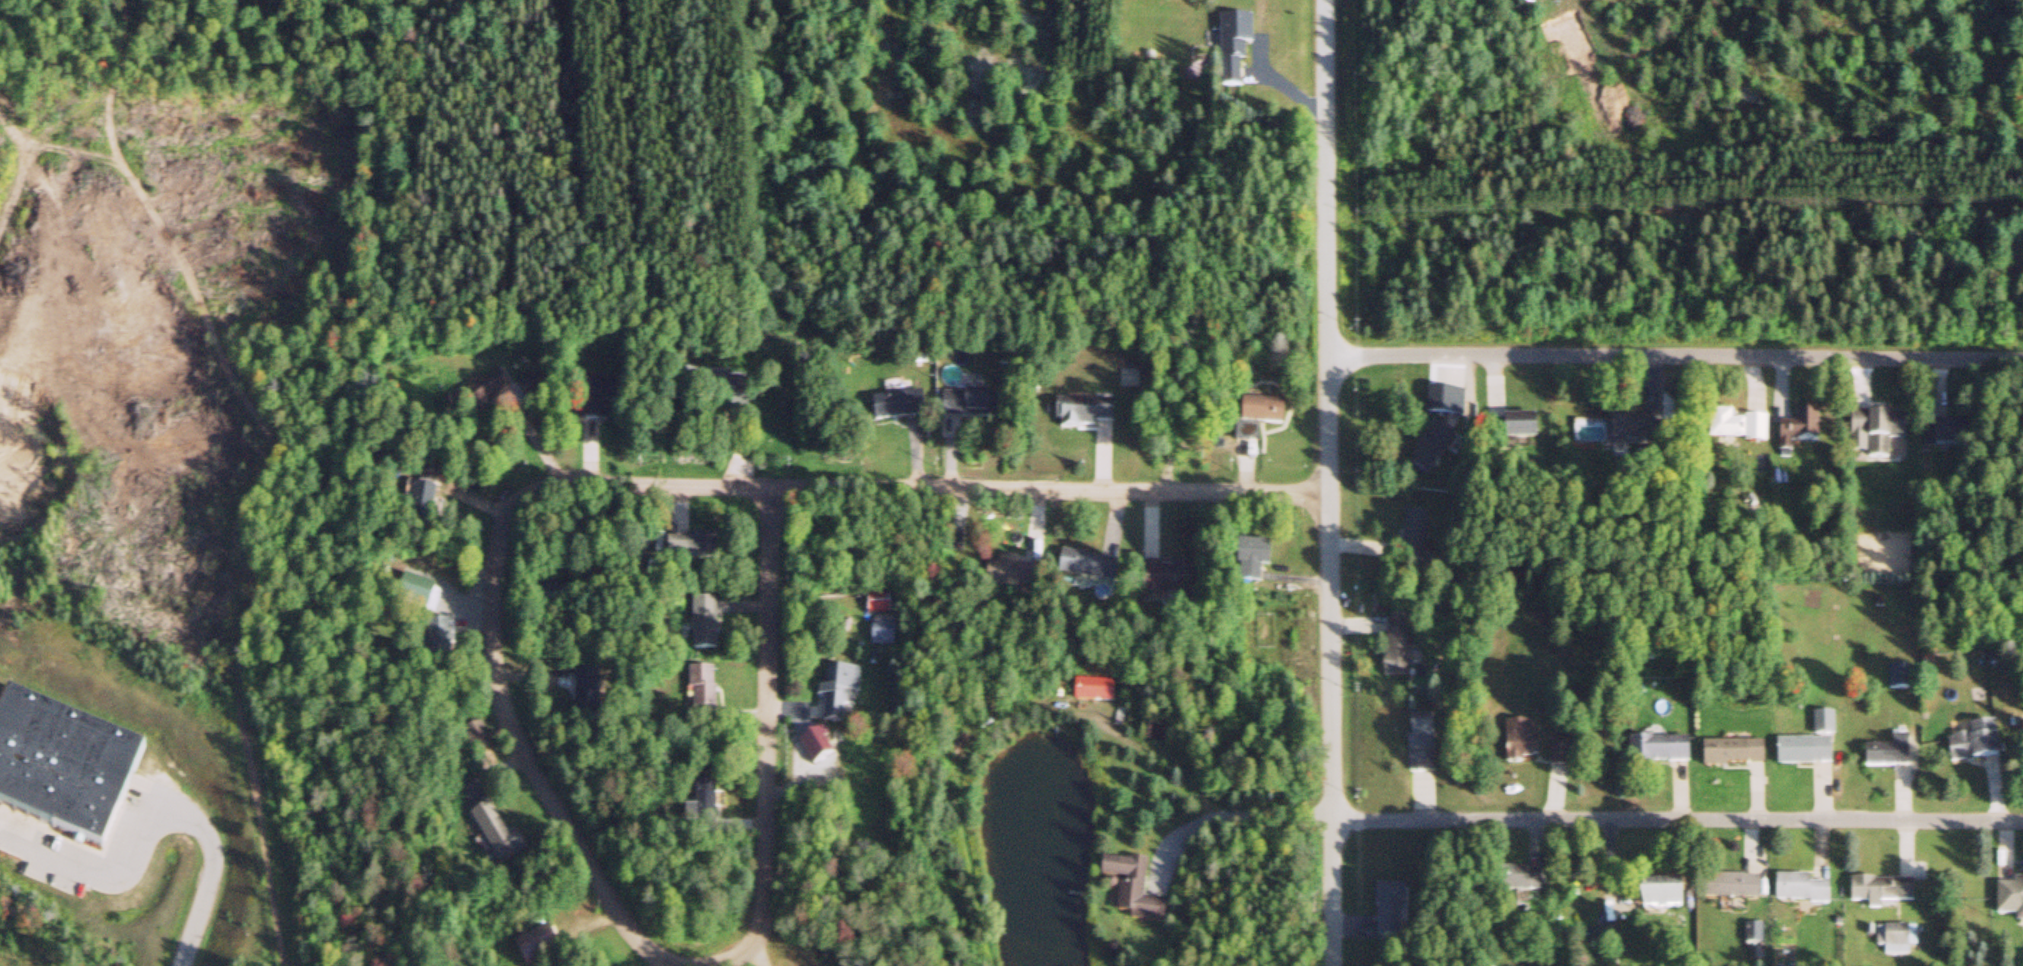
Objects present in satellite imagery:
building: (1239, 36)
road: (1676, 359)
building: (1128, 378)
building: (535, 389)
building: (607, 391)
building: (728, 391)
building: (483, 392)
building: (1455, 404)
building: (971, 406)
building: (900, 407)
building: (1086, 413)
building: (1270, 413)
building: (1514, 429)
building: (1643, 432)
building: (1743, 432)
building: (1881, 432)
building: (1798, 433)
building: (1952, 436)
building: (1434, 449)
road: (261, 474)
road: (1333, 482)
road: (625, 483)
road: (1050, 489)
building: (1416, 535)
building: (696, 549)
building: (1260, 555)
building: (1089, 567)
building: (1016, 576)
building: (1171, 581)
building: (706, 623)
building: (440, 631)
building: (1400, 648)
building: (1899, 678)
building: (1096, 693)
building: (589, 694)
building: (839, 695)
building: (1825, 726)
building: (1425, 745)
building: (1978, 746)
building: (1528, 750)
building: (1662, 753)
building: (1807, 754)
building: (1892, 754)
building: (1737, 756)
building: (1562, 758)
building: (68, 764)
road: (1676, 821)
building: (501, 839)
building: (1529, 882)
building: (1742, 888)
building: (1804, 891)
building: (1135, 892)
building: (1884, 893)
building: (1670, 898)
building: (2012, 899)
building: (1391, 912)
building: (1896, 938)
building: (540, 949)

